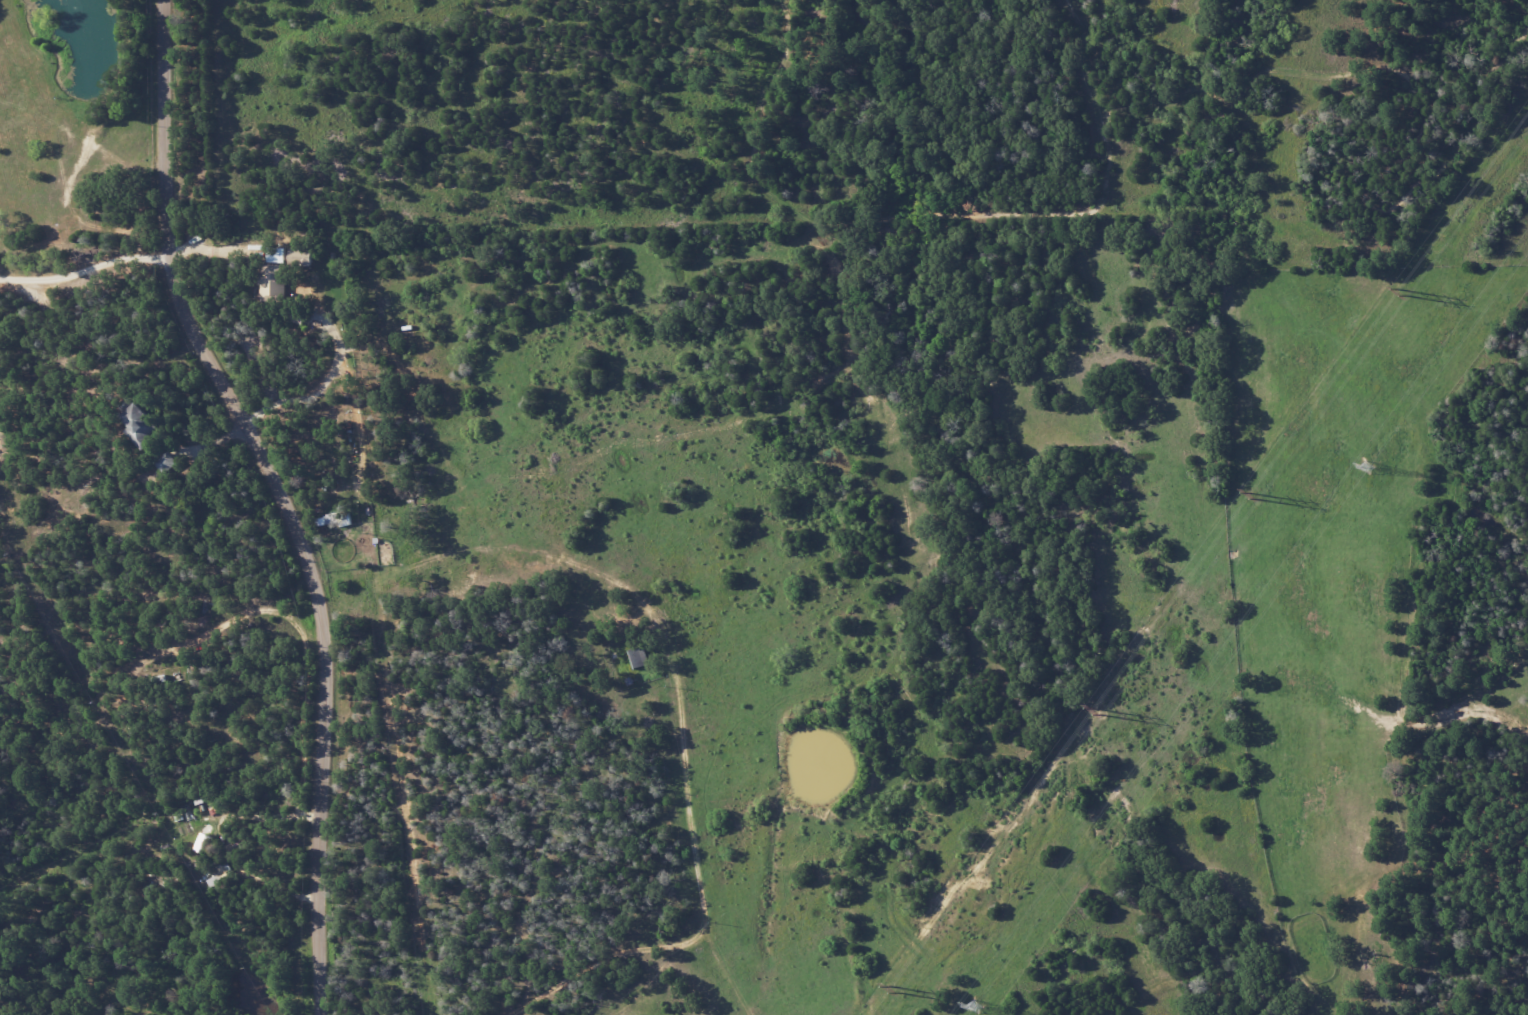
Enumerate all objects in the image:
road: (1092, 54)
road: (1119, 107)
building: (276, 255)
building: (299, 257)
road: (85, 282)
building: (272, 282)
power tower: (1400, 293)
road: (322, 395)
building: (142, 423)
building: (166, 462)
power tower: (1366, 468)
road: (282, 498)
power tower: (1252, 498)
building: (638, 657)
power tower: (1096, 714)
road: (226, 841)
building: (202, 843)
building: (220, 873)
power tower: (896, 991)
power tower: (978, 1009)
building: (0, 1014)

